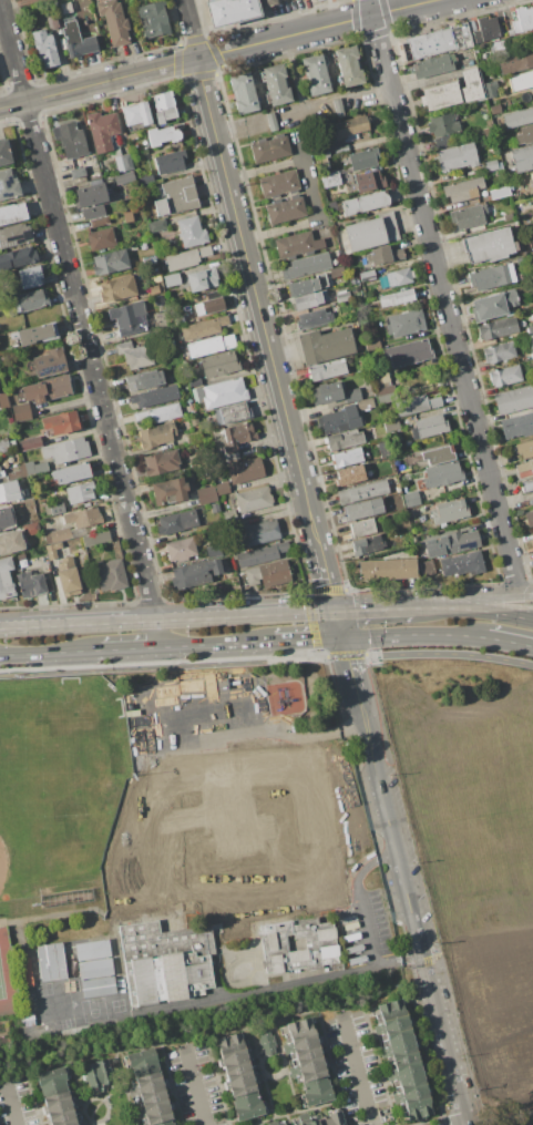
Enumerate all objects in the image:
building: (31, 0)
building: (315, 0)
building: (267, 2)
building: (65, 8)
building: (230, 11)
building: (153, 19)
building: (523, 20)
building: (114, 21)
building: (52, 22)
road: (191, 29)
road: (317, 29)
building: (486, 30)
building: (510, 33)
building: (78, 40)
building: (437, 41)
building: (499, 47)
building: (44, 48)
building: (515, 62)
building: (433, 65)
building: (348, 67)
building: (317, 74)
building: (521, 81)
road: (419, 82)
road: (99, 83)
building: (275, 84)
building: (470, 84)
building: (490, 89)
building: (531, 92)
building: (244, 93)
building: (440, 96)
building: (164, 106)
building: (338, 109)
building: (494, 109)
building: (136, 113)
building: (519, 119)
building: (271, 122)
building: (442, 124)
building: (350, 129)
building: (102, 131)
building: (525, 134)
building: (163, 135)
building: (132, 136)
building: (70, 140)
building: (376, 141)
building: (442, 142)
building: (270, 149)
building: (320, 152)
building: (4, 153)
building: (455, 157)
building: (363, 158)
building: (522, 158)
building: (122, 161)
building: (171, 162)
building: (491, 165)
road: (264, 170)
building: (78, 173)
building: (124, 177)
building: (146, 180)
building: (331, 180)
building: (368, 181)
building: (279, 184)
building: (8, 185)
building: (463, 190)
building: (499, 192)
building: (90, 195)
building: (177, 197)
building: (532, 202)
building: (365, 203)
building: (286, 209)
building: (93, 212)
building: (12, 214)
building: (127, 216)
road: (316, 216)
building: (469, 216)
building: (508, 216)
building: (96, 222)
building: (157, 226)
building: (192, 232)
building: (370, 233)
building: (14, 236)
building: (531, 238)
building: (102, 239)
building: (297, 245)
building: (489, 245)
building: (383, 255)
building: (532, 257)
building: (18, 258)
building: (187, 258)
building: (110, 262)
building: (307, 266)
building: (155, 272)
road: (249, 272)
building: (337, 273)
building: (367, 276)
building: (492, 276)
building: (30, 277)
building: (399, 277)
building: (203, 279)
building: (157, 280)
building: (172, 280)
building: (307, 285)
building: (117, 288)
building: (154, 290)
road: (442, 296)
building: (344, 297)
building: (397, 298)
building: (30, 300)
building: (309, 300)
building: (492, 305)
building: (209, 306)
road: (78, 311)
building: (130, 318)
building: (314, 319)
building: (180, 321)
building: (406, 323)
building: (204, 328)
building: (496, 328)
building: (530, 329)
building: (34, 335)
building: (531, 341)
building: (371, 344)
building: (325, 345)
building: (211, 346)
building: (499, 352)
building: (409, 354)
building: (135, 355)
building: (523, 359)
building: (49, 364)
building: (219, 364)
building: (327, 370)
building: (380, 376)
building: (505, 376)
building: (144, 380)
building: (194, 381)
building: (48, 389)
building: (196, 393)
building: (224, 393)
building: (327, 393)
building: (385, 395)
building: (352, 396)
building: (155, 397)
building: (513, 400)
building: (3, 401)
building: (366, 405)
building: (417, 405)
building: (21, 412)
building: (236, 412)
building: (164, 413)
building: (194, 421)
building: (334, 421)
building: (62, 423)
building: (516, 425)
building: (393, 426)
building: (429, 427)
building: (156, 436)
building: (237, 437)
building: (344, 440)
building: (30, 443)
building: (3, 446)
building: (524, 449)
building: (66, 450)
building: (439, 454)
building: (347, 457)
building: (161, 462)
building: (408, 462)
building: (524, 467)
building: (35, 468)
building: (245, 470)
building: (18, 472)
building: (71, 473)
building: (1, 474)
building: (442, 474)
building: (350, 475)
building: (526, 485)
building: (222, 489)
building: (170, 490)
building: (10, 492)
building: (80, 492)
building: (362, 492)
building: (206, 495)
building: (254, 499)
building: (413, 499)
building: (215, 508)
building: (54, 509)
building: (363, 509)
building: (449, 511)
building: (229, 517)
building: (83, 518)
building: (4, 519)
road: (312, 519)
building: (529, 519)
building: (177, 522)
building: (363, 528)
building: (31, 529)
building: (262, 532)
building: (57, 535)
building: (417, 538)
building: (96, 539)
building: (390, 541)
building: (462, 541)
building: (10, 543)
building: (368, 545)
building: (211, 549)
building: (52, 550)
building: (181, 550)
building: (433, 553)
building: (262, 554)
building: (422, 558)
building: (23, 564)
building: (462, 564)
building: (6, 566)
building: (427, 567)
building: (406, 569)
building: (387, 570)
building: (368, 571)
building: (195, 573)
building: (268, 574)
building: (111, 575)
building: (68, 577)
road: (328, 583)
building: (31, 584)
building: (7, 587)
road: (525, 592)
road: (483, 599)
road: (432, 607)
road: (375, 610)
road: (492, 611)
traffic signals: (337, 612)
road: (266, 615)
road: (176, 621)
road: (88, 624)
road: (340, 625)
road: (9, 627)
road: (157, 635)
road: (414, 636)
road: (308, 640)
traffic signals: (344, 640)
road: (509, 642)
road: (216, 646)
road: (129, 651)
road: (50, 654)
road: (440, 654)
road: (349, 665)
road: (173, 666)
park: (175, 709)
road: (362, 713)
park: (61, 784)
park: (73, 816)
crop: (475, 848)
road: (397, 849)
park: (3, 861)
road: (368, 866)
building: (204, 883)
building: (122, 886)
road: (58, 914)
road: (367, 931)
building: (93, 959)
building: (54, 962)
park: (8, 975)
road: (277, 985)
building: (96, 986)
building: (392, 1020)
building: (27, 1021)
building: (300, 1039)
building: (266, 1042)
road: (447, 1044)
building: (399, 1049)
building: (234, 1053)
building: (142, 1062)
building: (308, 1067)
road: (358, 1071)
building: (406, 1072)
building: (98, 1074)
building: (52, 1081)
building: (243, 1082)
building: (147, 1087)
road: (198, 1088)
building: (316, 1092)
building: (413, 1100)
building: (60, 1105)
road: (14, 1106)
building: (248, 1106)
building: (154, 1111)
building: (331, 1117)
road: (502, 1117)
building: (306, 1119)
building: (68, 1121)
building: (165, 1123)
building: (273, 1123)
building: (283, 1124)

